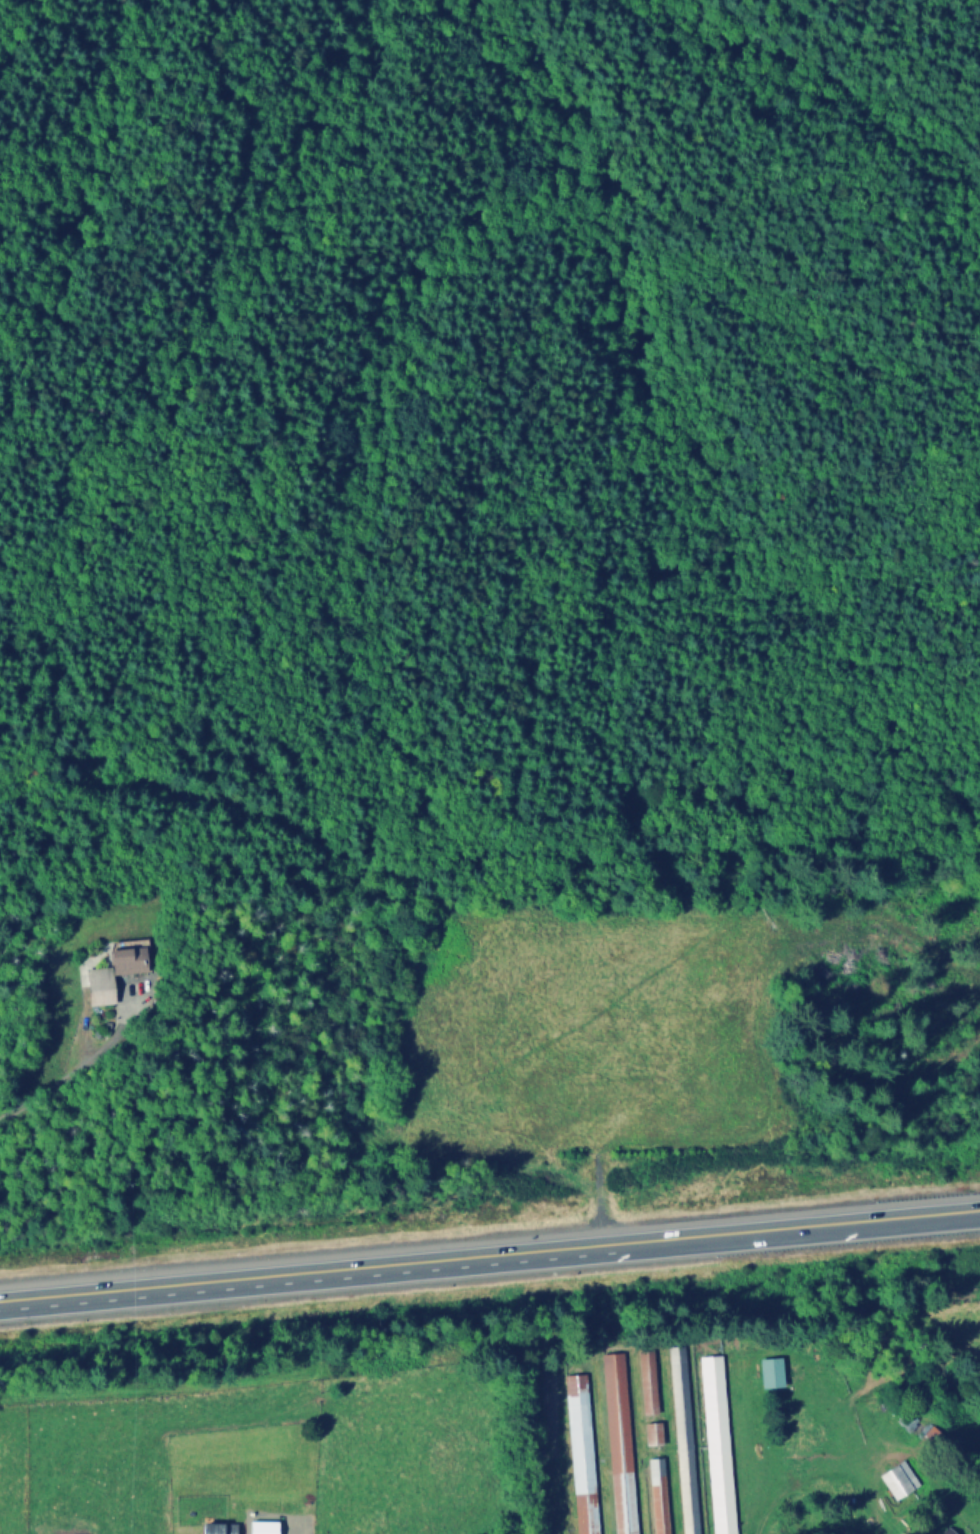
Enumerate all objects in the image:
building: (110, 974)
road: (489, 1259)
building: (649, 1385)
building: (925, 1434)
building: (655, 1436)
building: (686, 1441)
building: (622, 1444)
building: (586, 1464)
building: (661, 1497)
building: (258, 1529)
building: (214, 1530)
road: (286, 1531)
building: (948, 1532)

